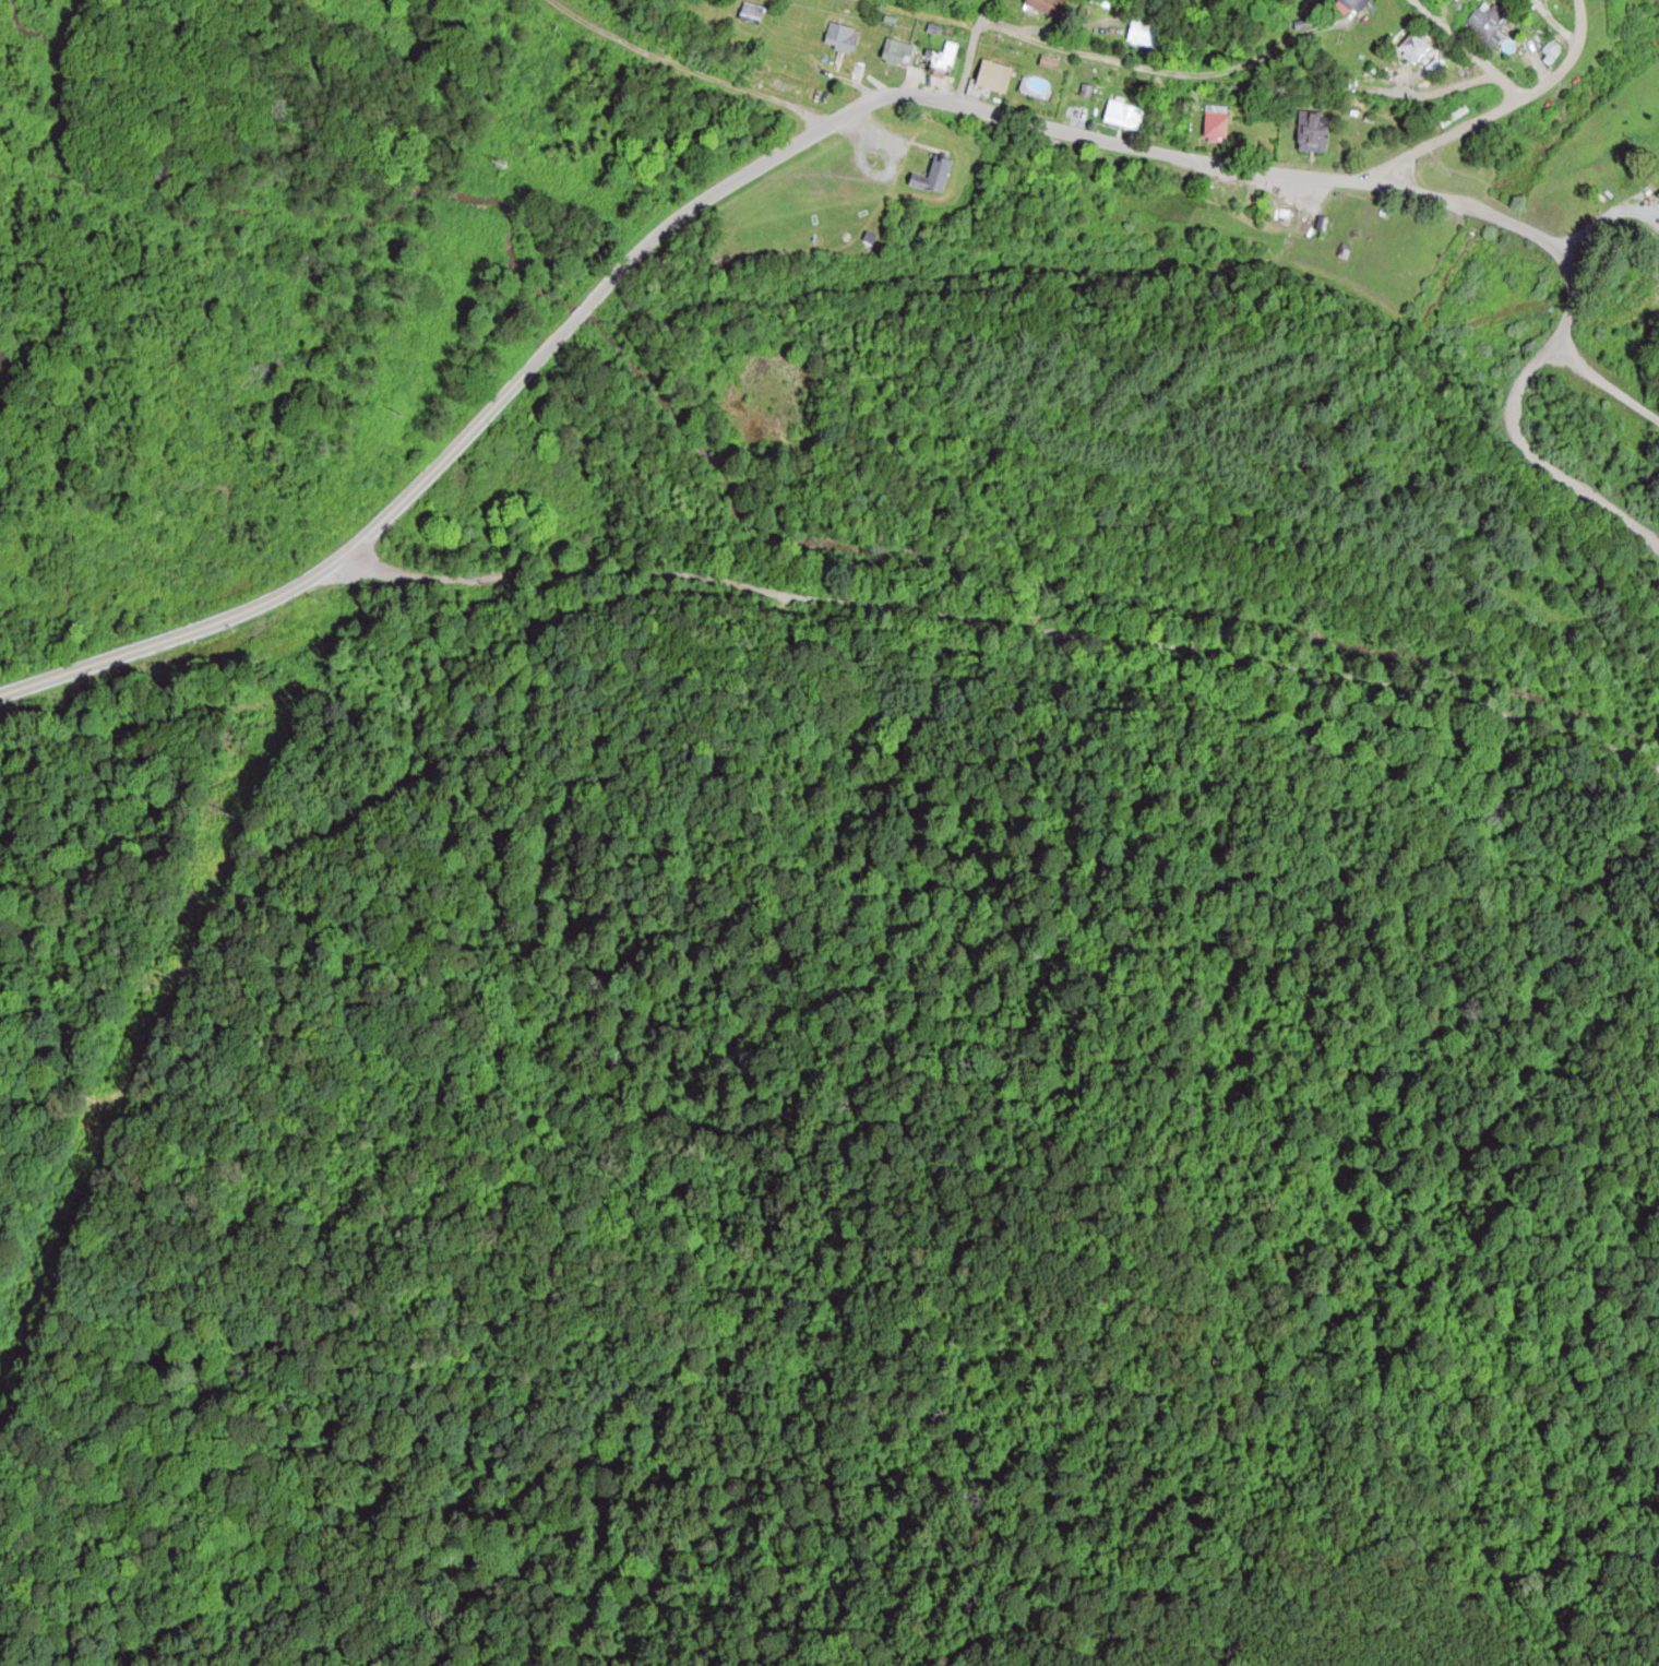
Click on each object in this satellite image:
building: (1360, 3)
building: (1043, 5)
building: (753, 12)
building: (1487, 25)
building: (1144, 33)
building: (843, 38)
building: (1416, 44)
road: (969, 47)
road: (1466, 50)
building: (898, 52)
road: (1564, 58)
building: (943, 60)
road: (1145, 66)
building: (995, 76)
building: (1124, 115)
road: (1019, 116)
building: (1217, 127)
building: (1314, 131)
road: (1448, 132)
building: (935, 176)
building: (1658, 195)
road: (573, 320)
road: (1563, 328)
road: (1006, 622)
road: (176, 633)

